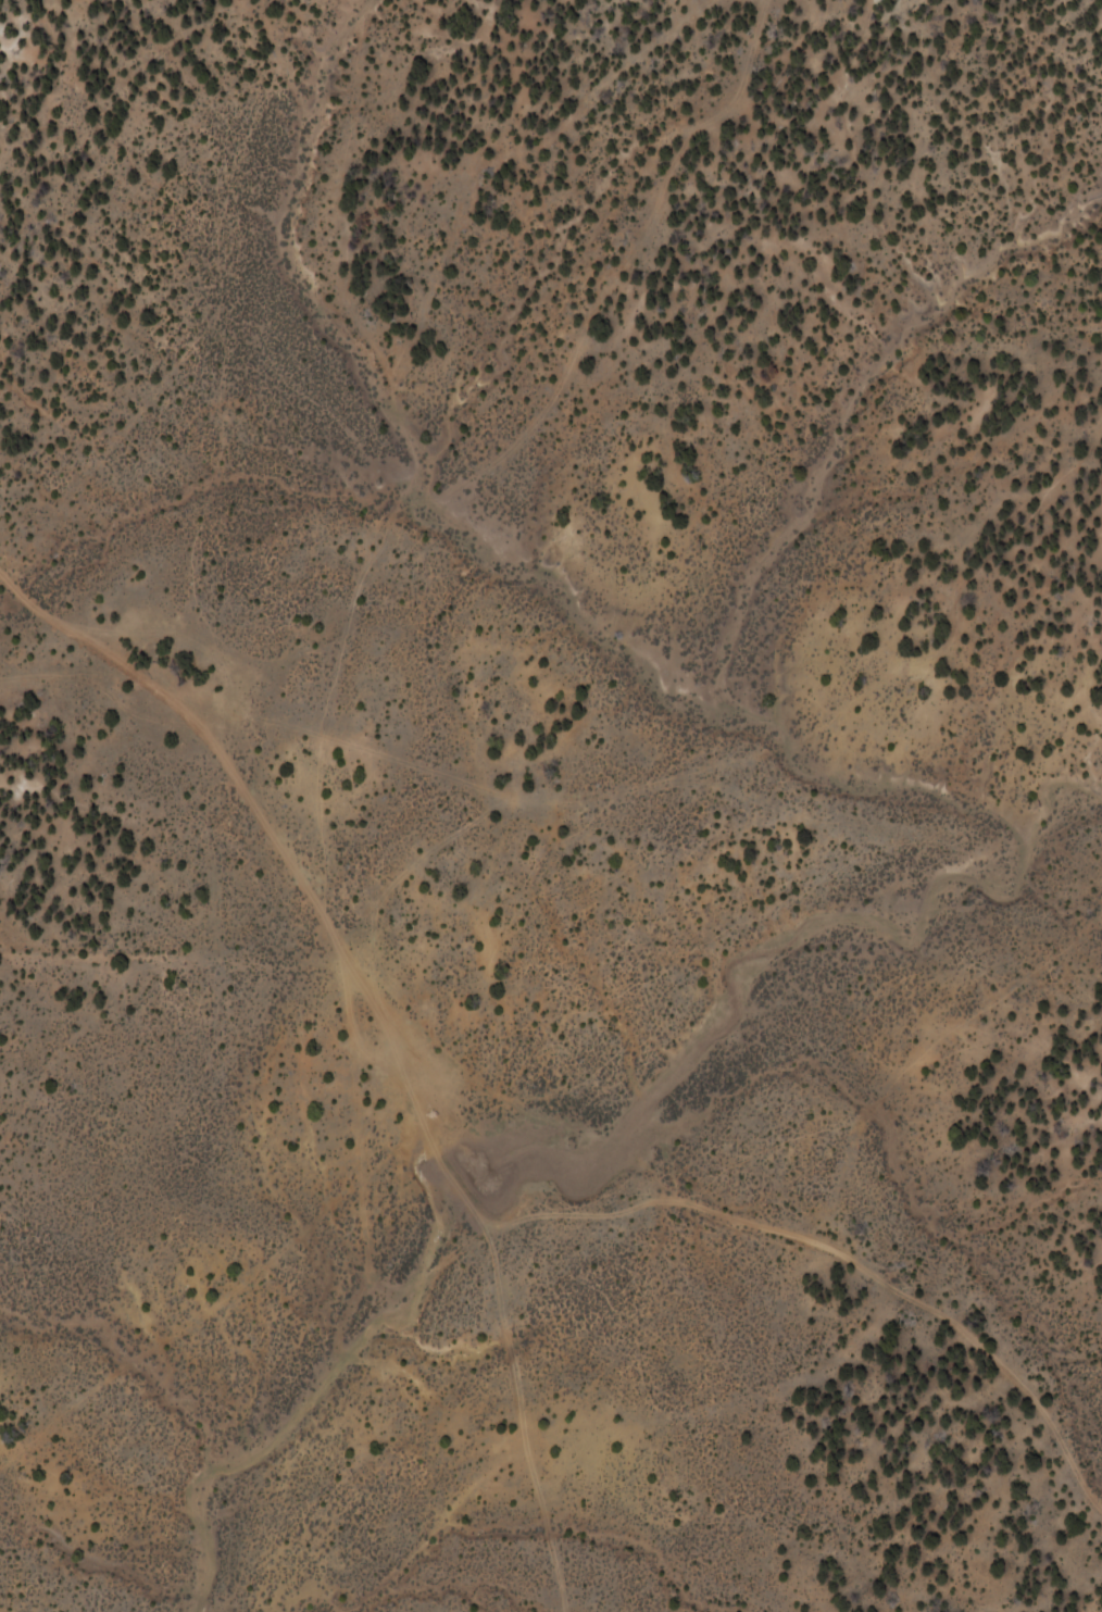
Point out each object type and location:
road: (408, 1042)
road: (1014, 1380)

